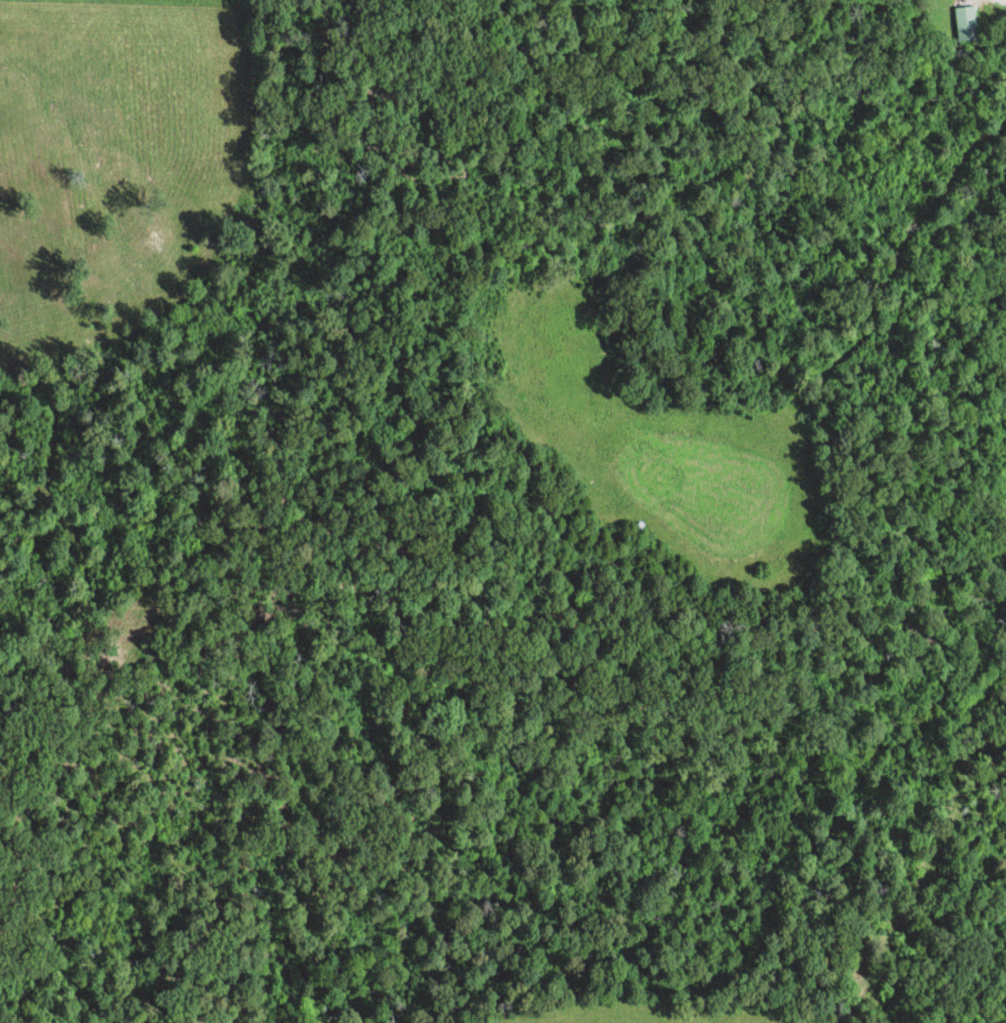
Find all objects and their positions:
building: (964, 25)
road: (351, 92)

